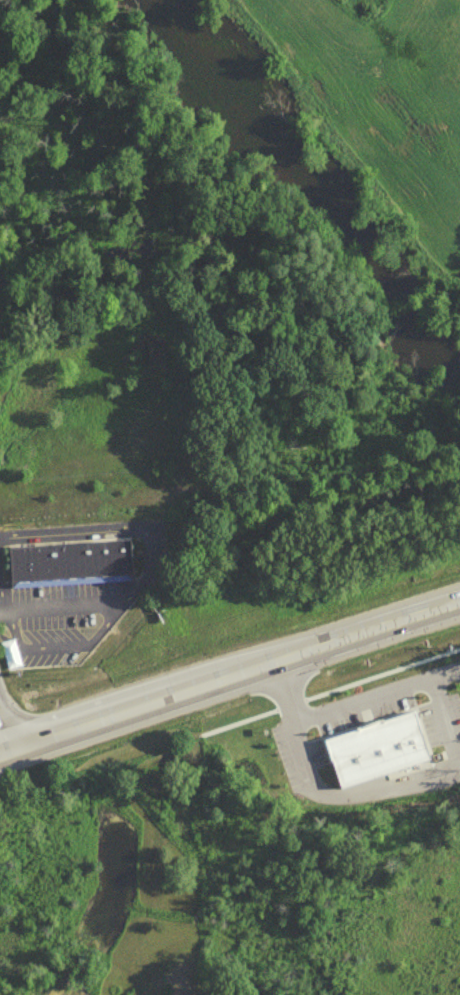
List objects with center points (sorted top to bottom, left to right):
river: (314, 185)
road: (117, 524)
building: (66, 562)
road: (54, 601)
road: (1, 602)
road: (59, 643)
road: (229, 684)
road: (329, 686)
road: (375, 690)
road: (284, 693)
road: (444, 717)
road: (4, 741)
building: (375, 747)
traffic signals: (9, 757)
road: (351, 795)

